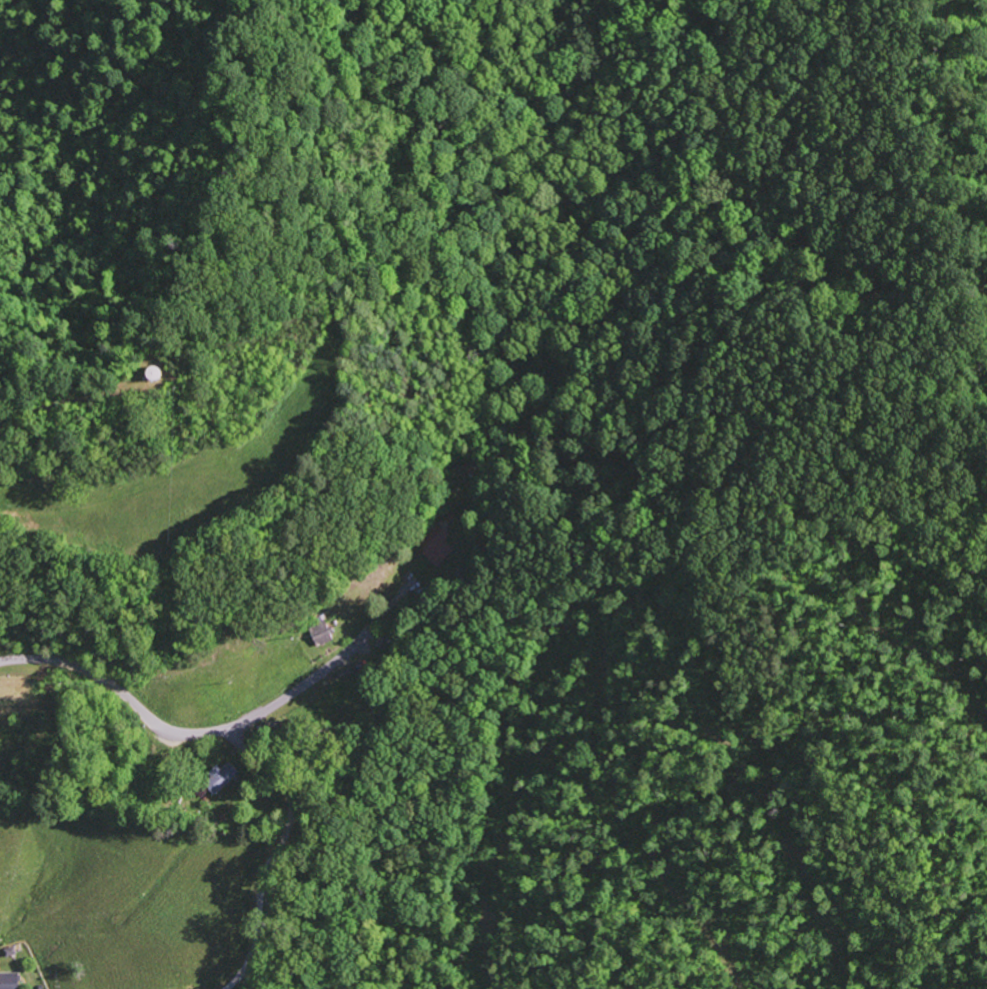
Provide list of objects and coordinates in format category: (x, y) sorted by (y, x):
building: (440, 540)
building: (320, 633)
road: (175, 728)
building: (220, 778)
road: (267, 867)
building: (9, 981)

